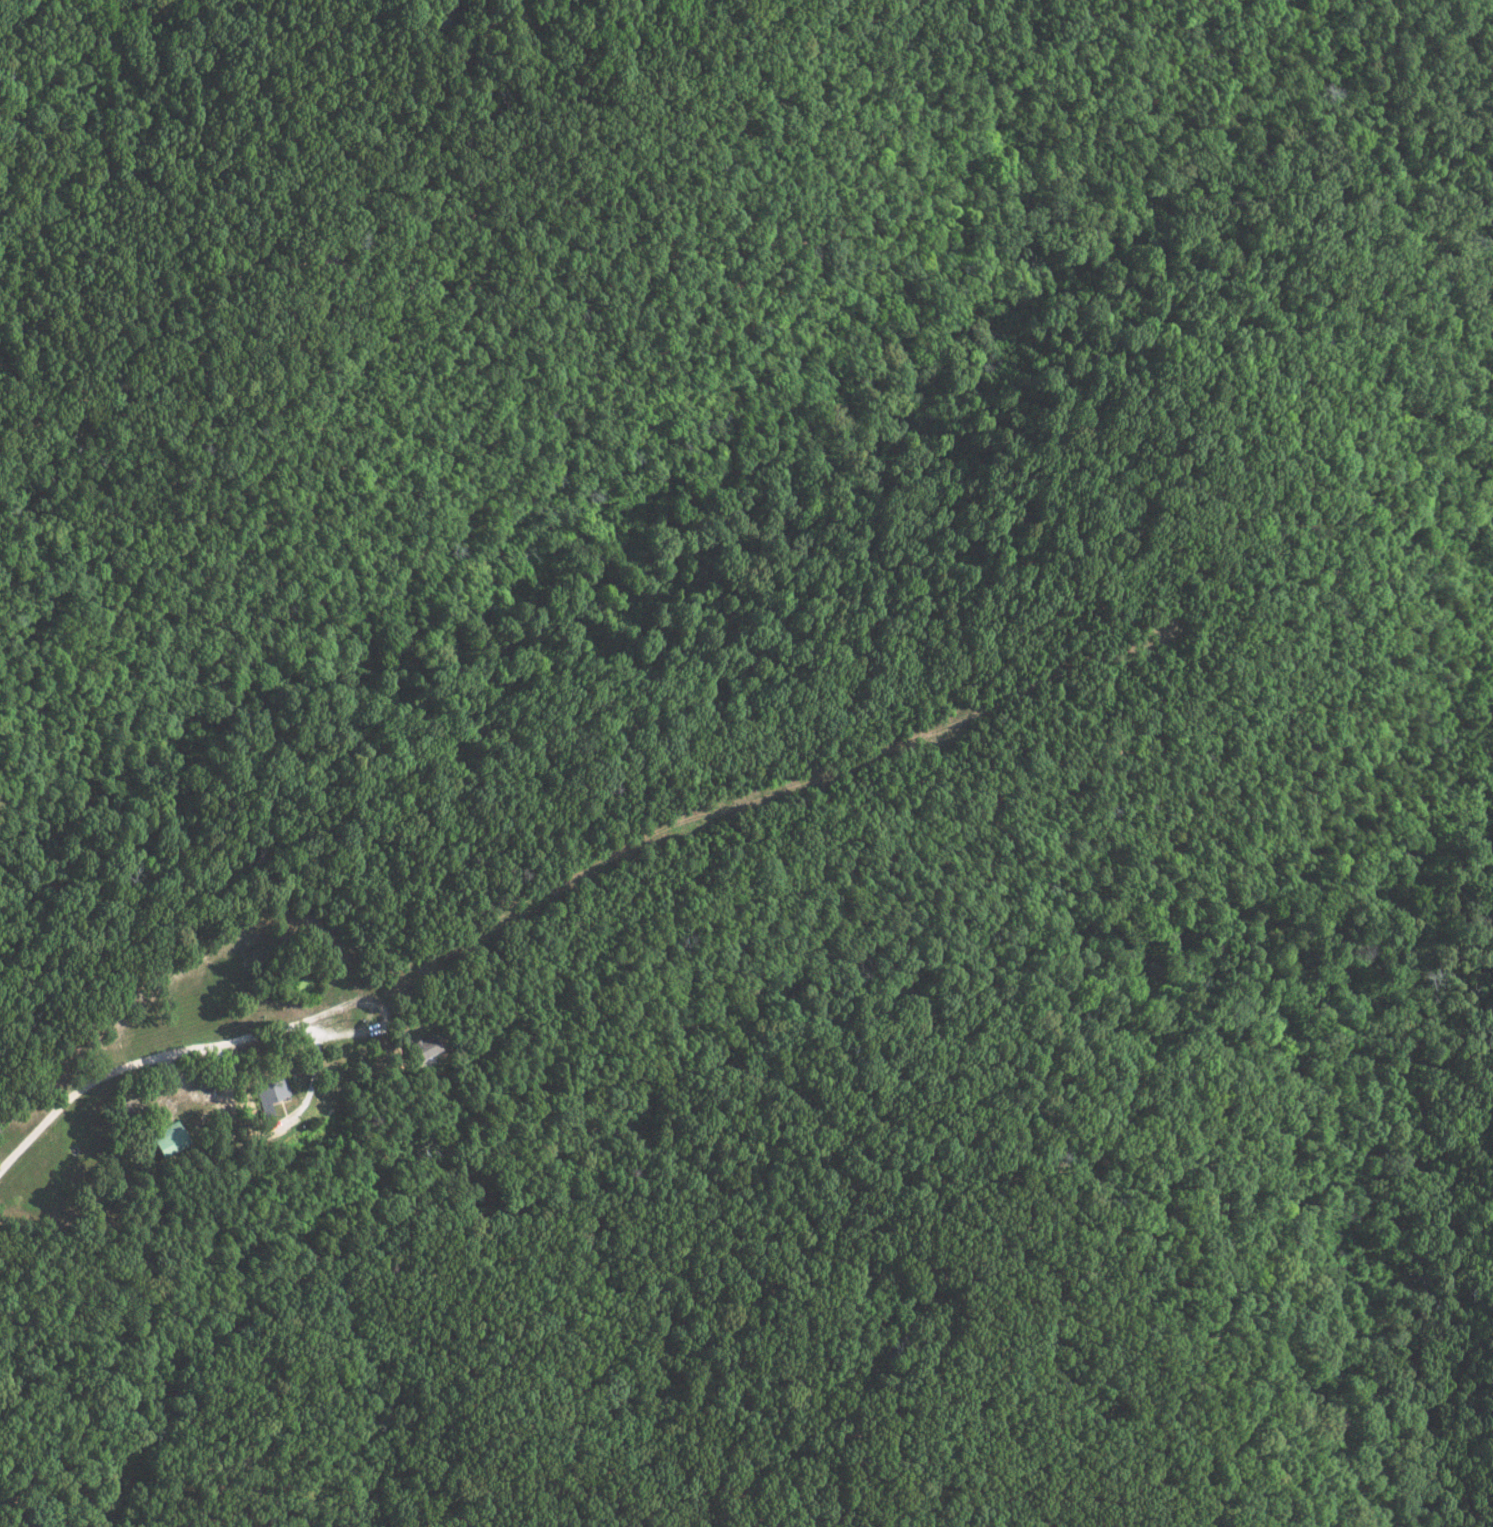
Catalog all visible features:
road: (190, 1047)
building: (424, 1050)
building: (272, 1090)

